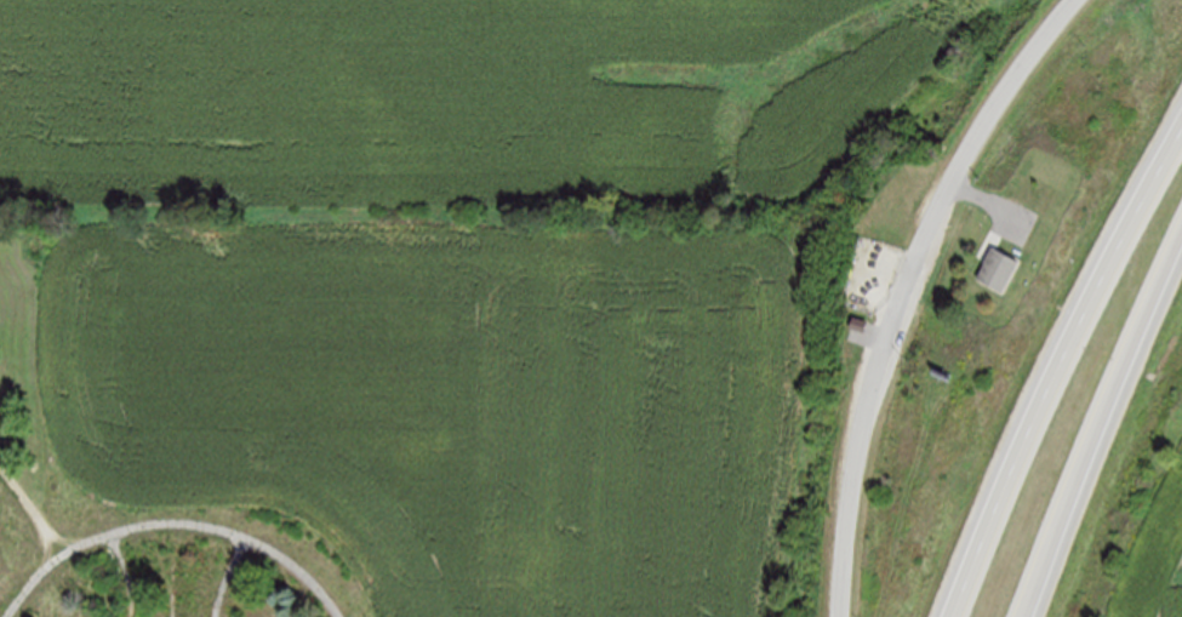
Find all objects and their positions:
road: (992, 201)
building: (997, 269)
road: (907, 290)
road: (1055, 369)
road: (1096, 422)

